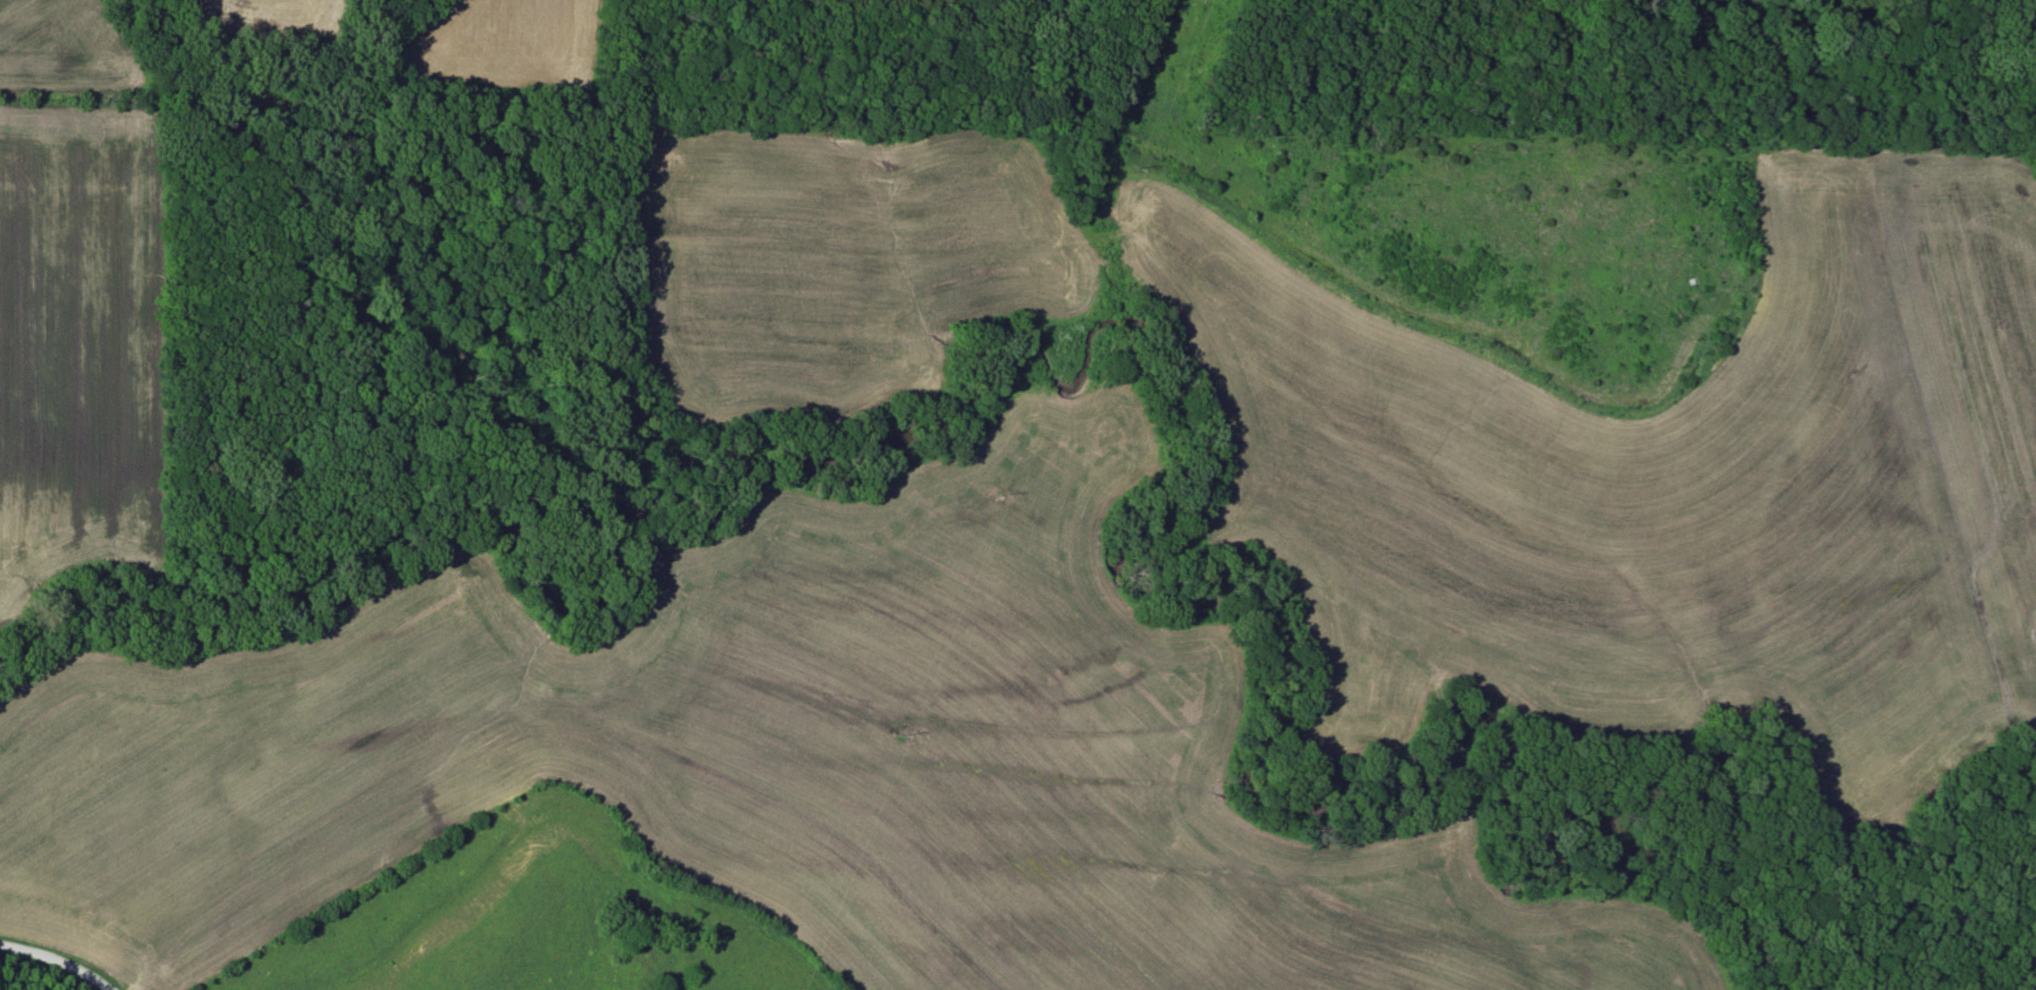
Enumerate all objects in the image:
road: (56, 960)

